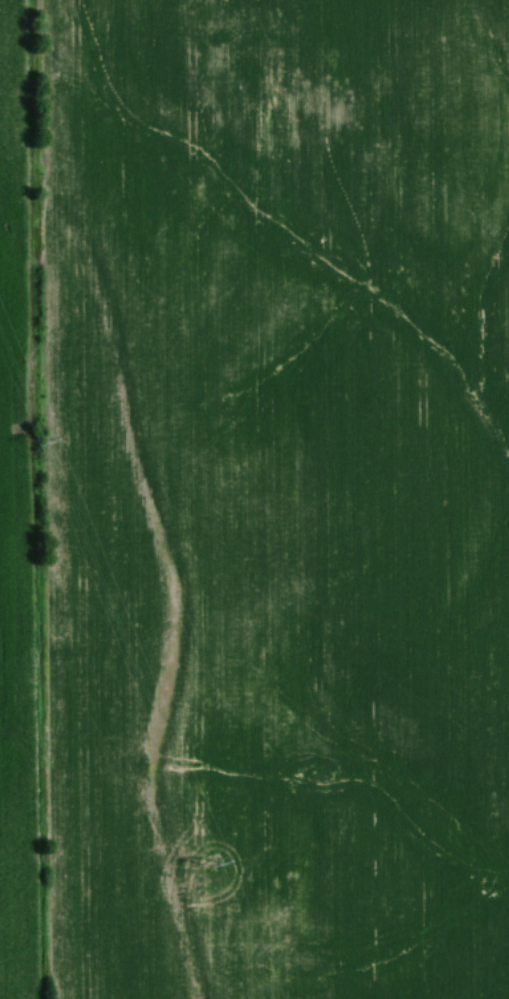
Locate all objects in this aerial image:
power tower: (40, 442)
power tower: (212, 862)

